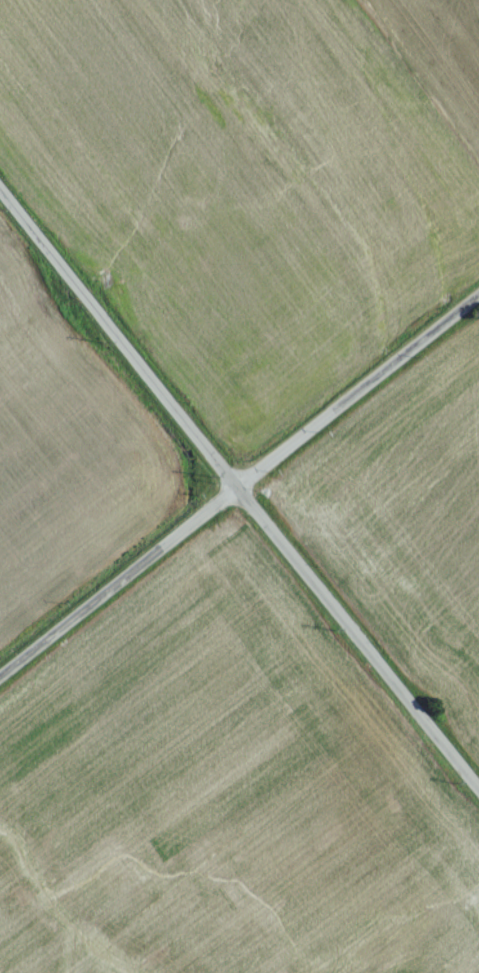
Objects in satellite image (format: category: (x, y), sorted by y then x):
road: (120, 337)
road: (359, 391)
road: (120, 582)
road: (359, 636)

